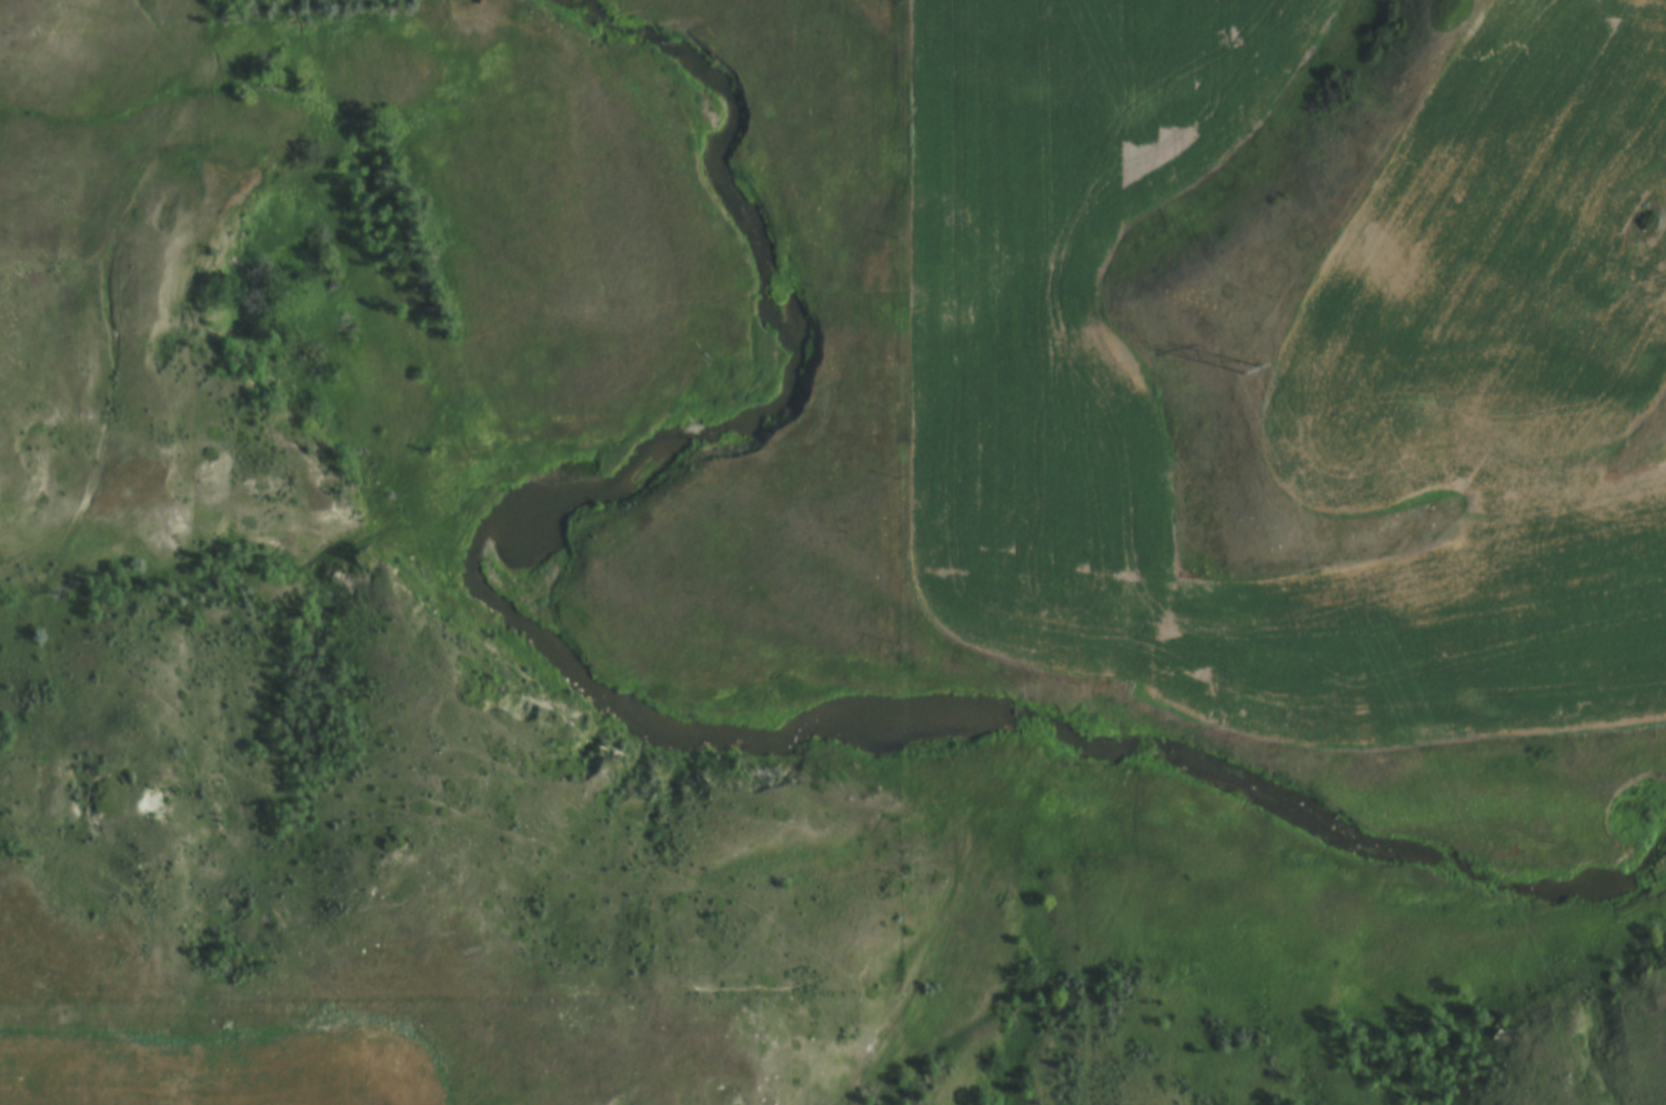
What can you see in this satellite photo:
power tower: (1247, 378)

